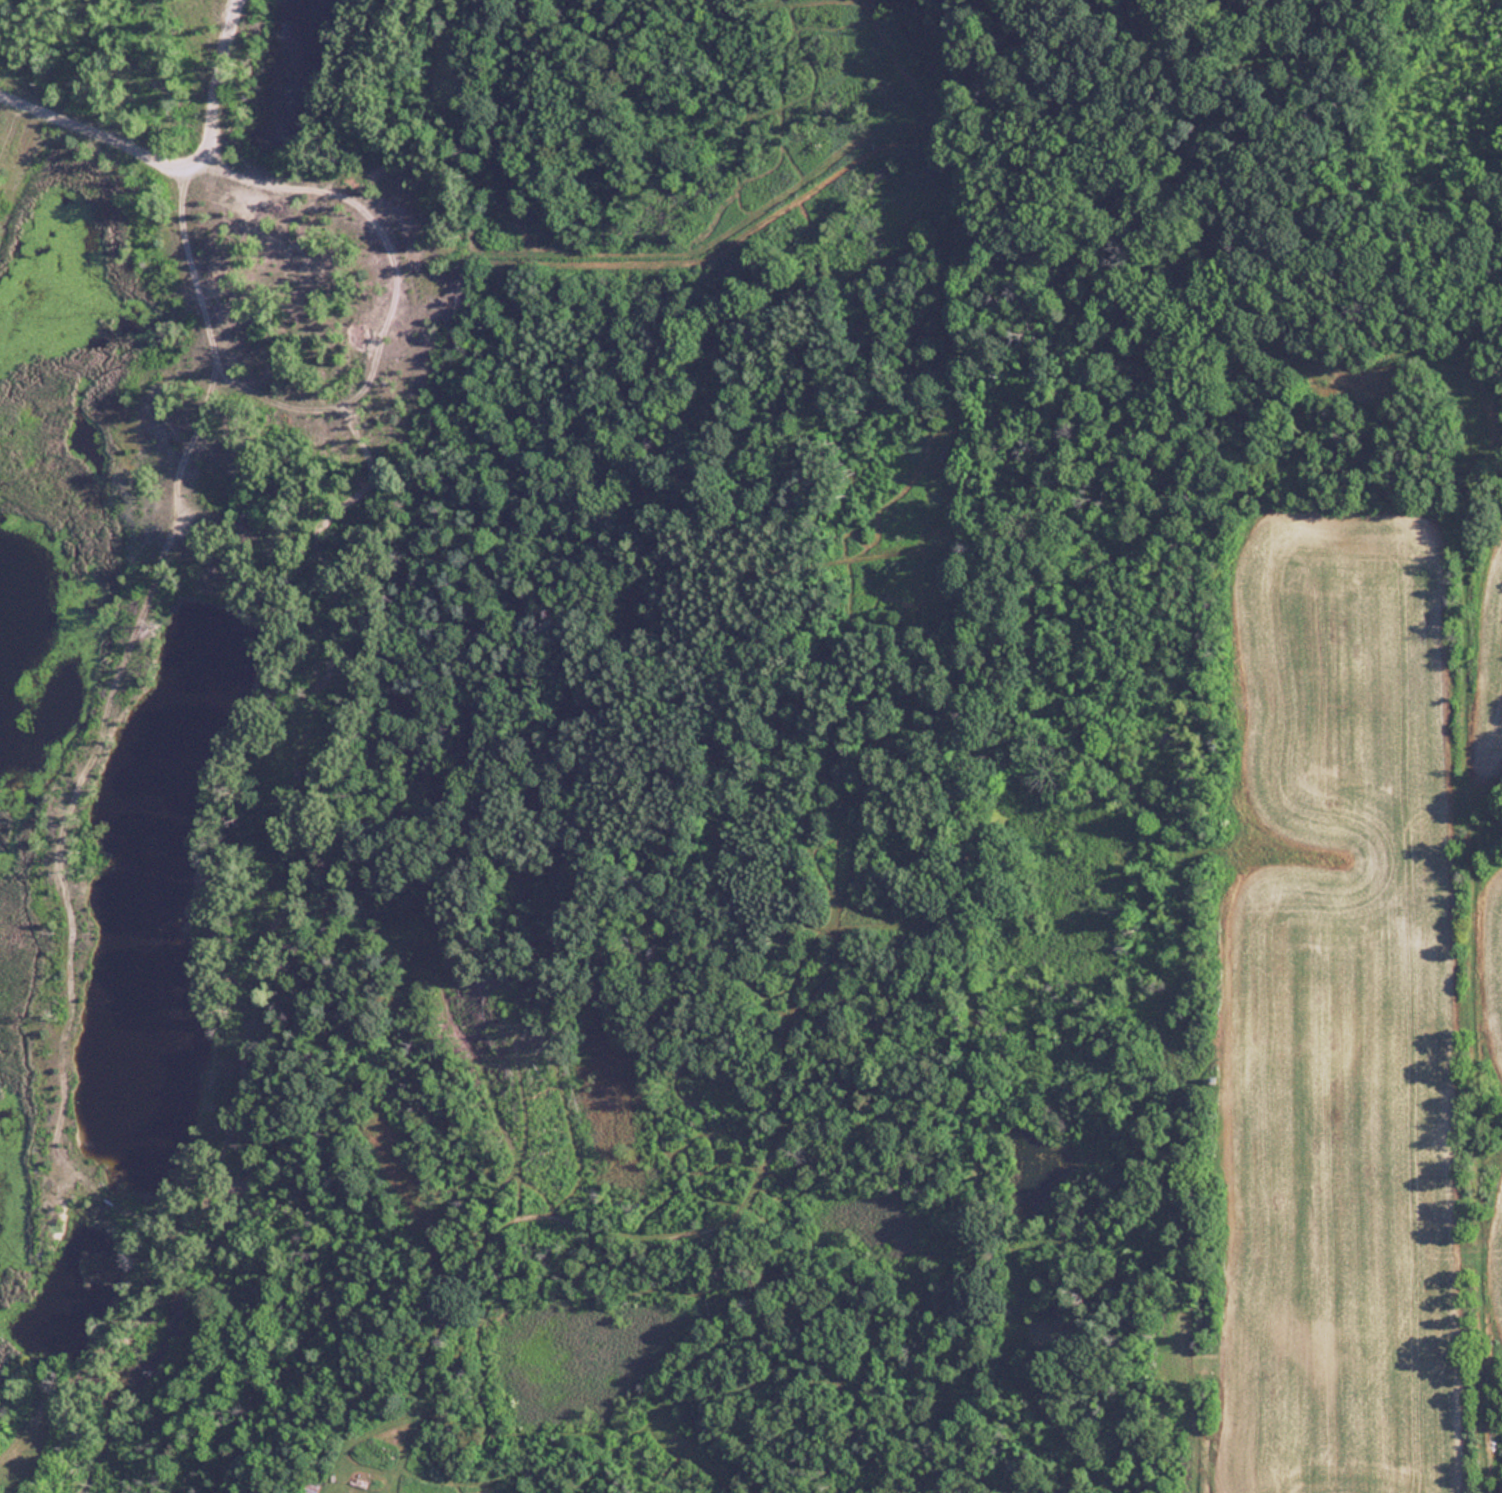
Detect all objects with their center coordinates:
road: (211, 80)
road: (99, 123)
building: (936, 415)
building: (309, 1487)

